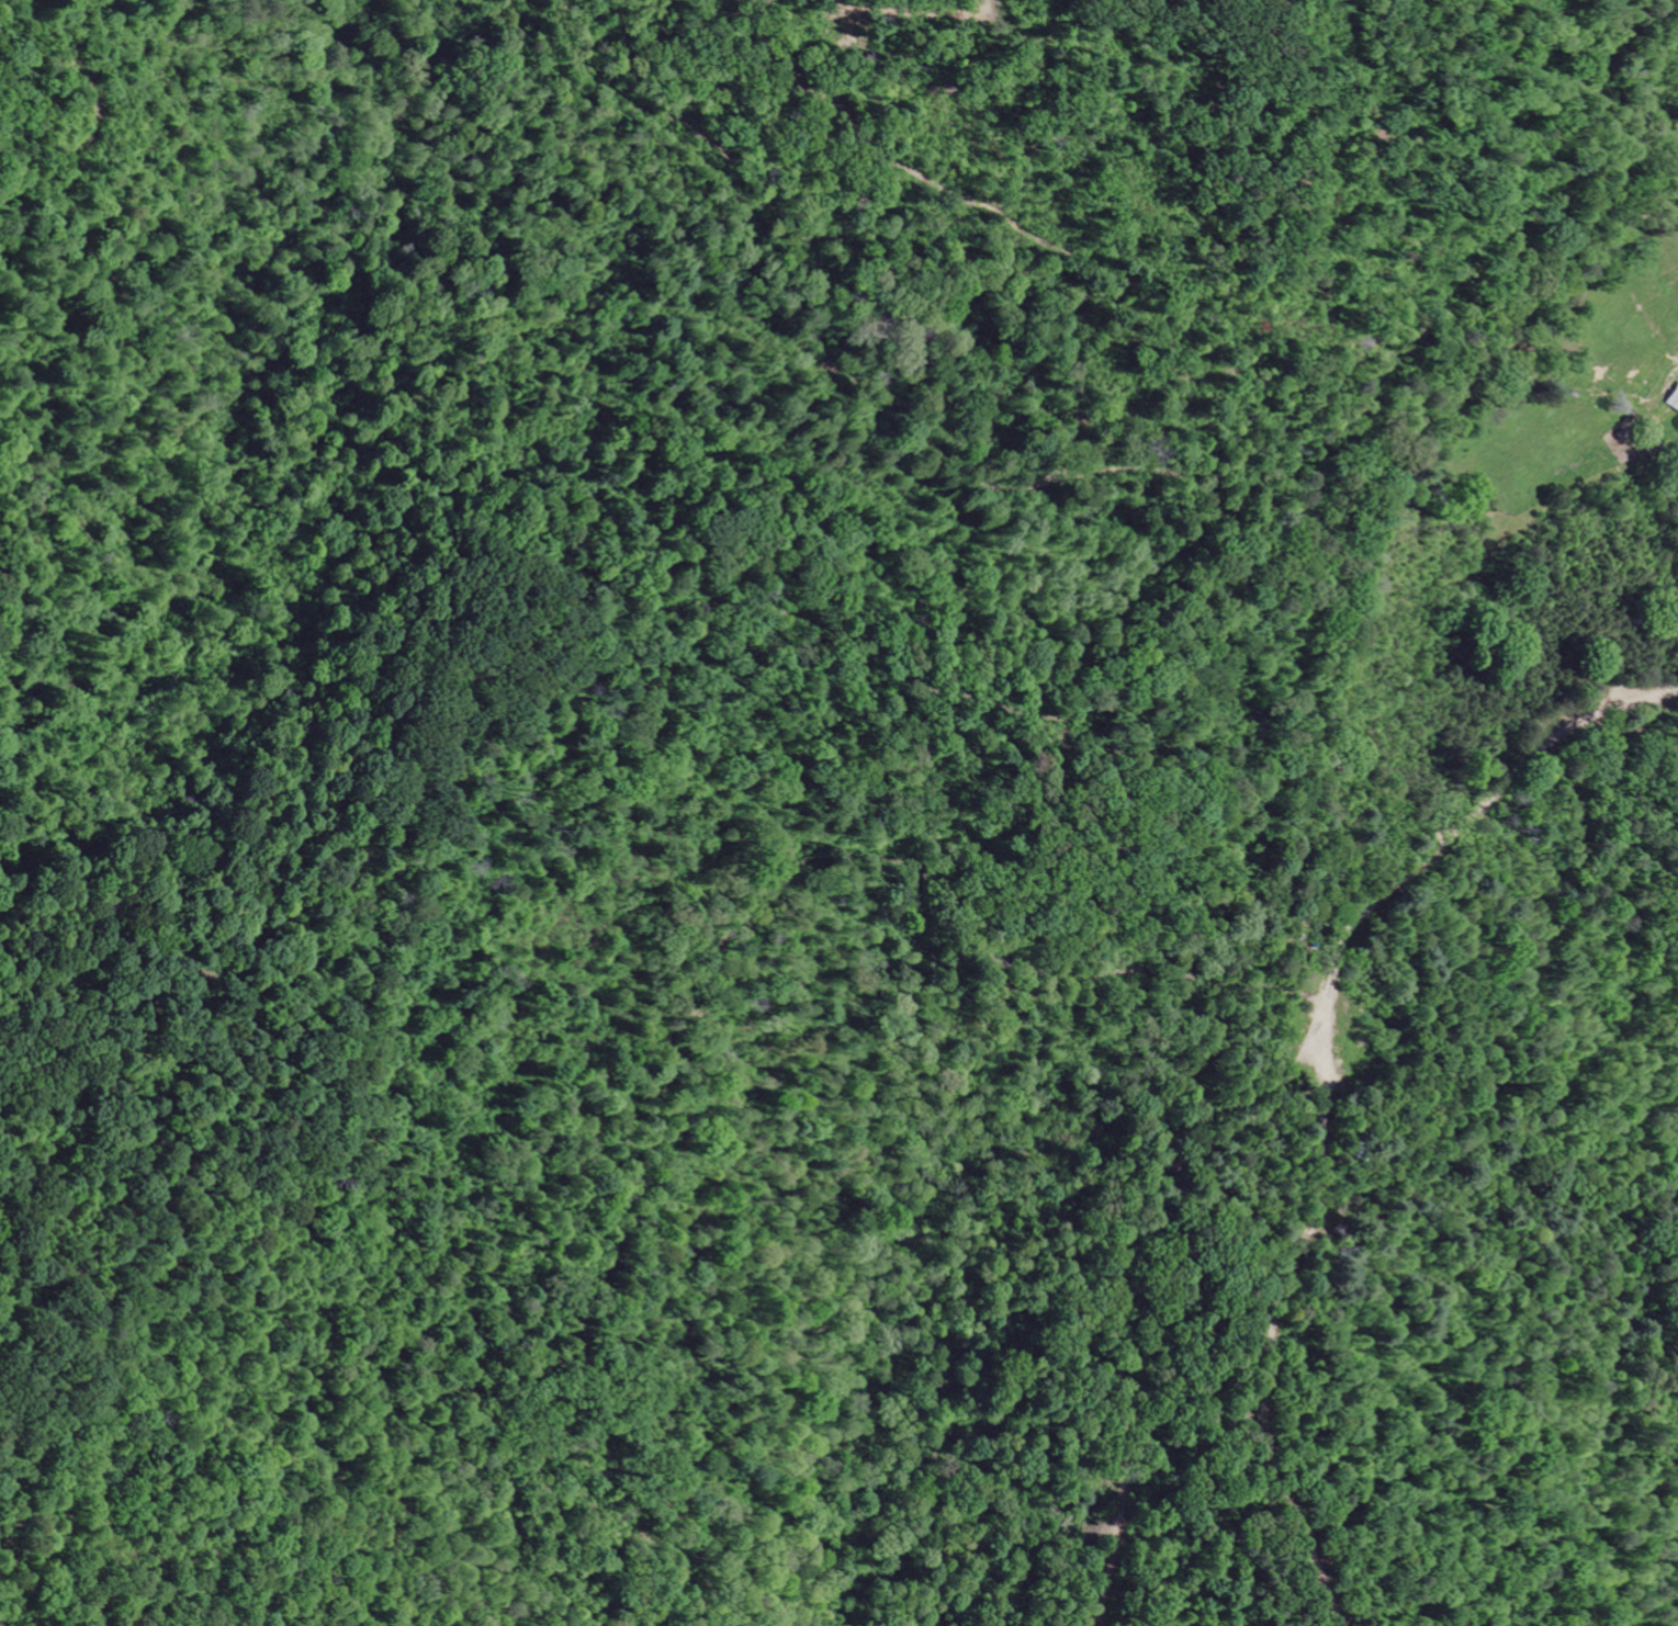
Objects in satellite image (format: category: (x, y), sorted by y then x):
building: (1675, 400)

